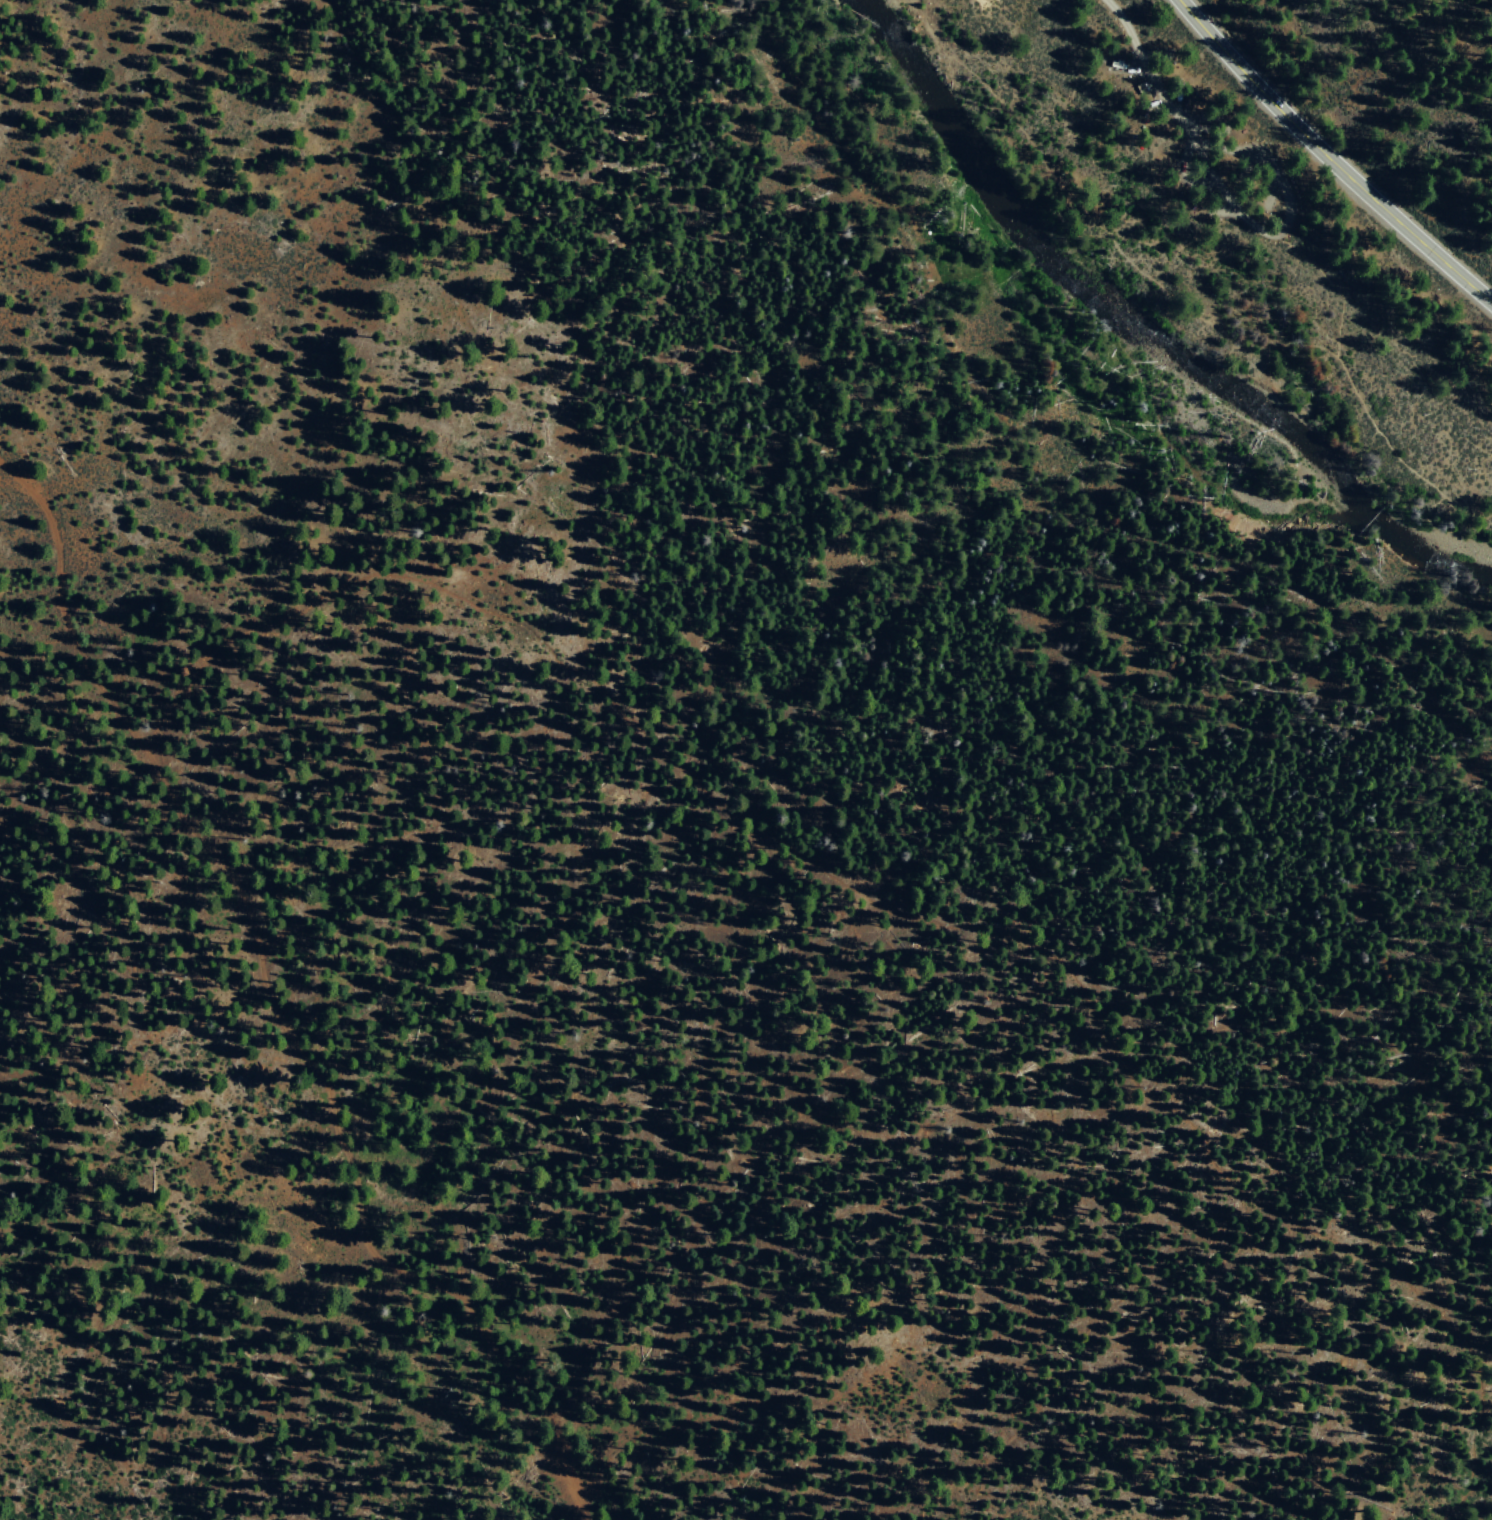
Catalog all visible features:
road: (1145, 70)
road: (1328, 157)
road: (1284, 220)
road: (1172, 297)
river: (1137, 326)
road: (276, 1003)

